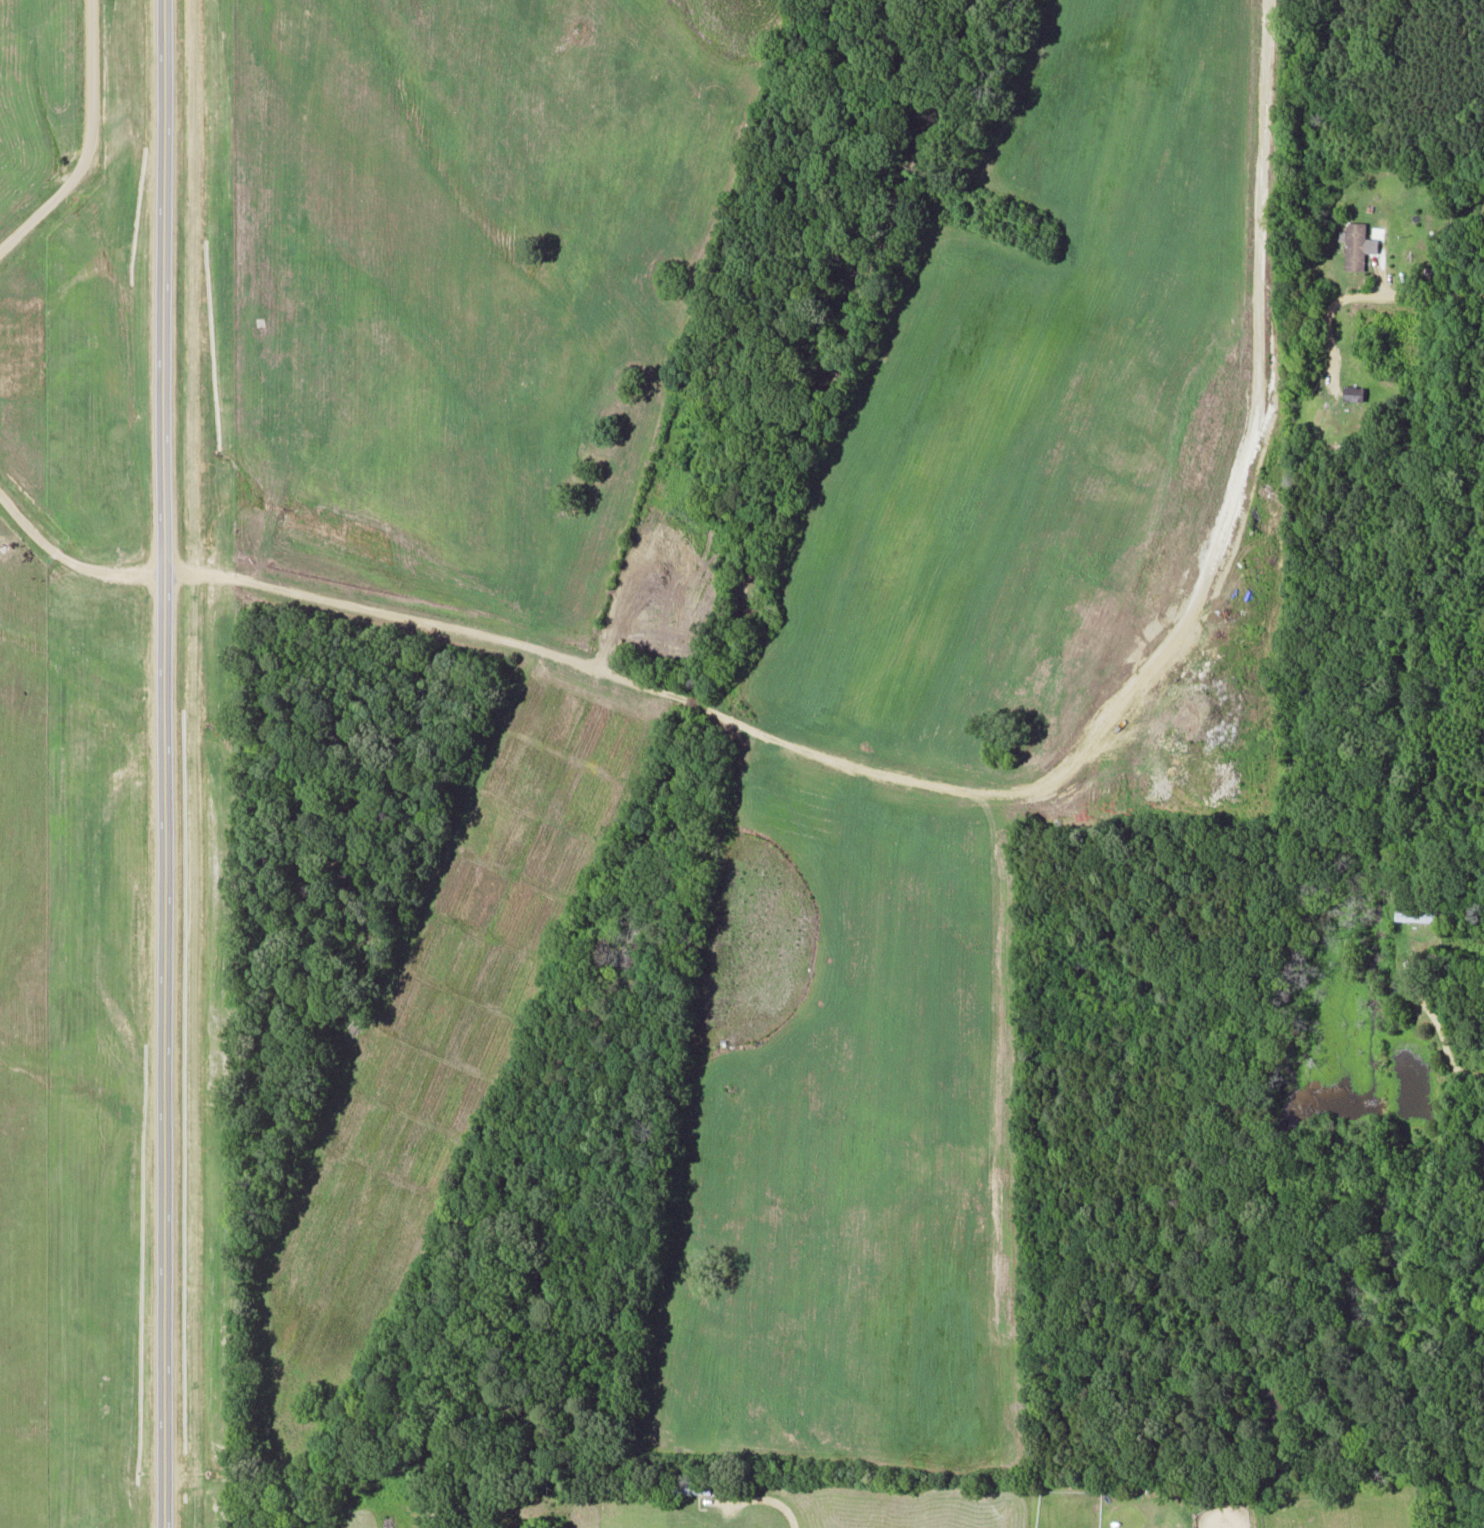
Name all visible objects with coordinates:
road: (91, 144)
building: (1355, 244)
road: (1418, 293)
building: (1352, 391)
road: (287, 587)
road: (164, 764)
building: (1413, 915)
road: (1444, 1044)
building: (689, 1488)
road: (766, 1499)

